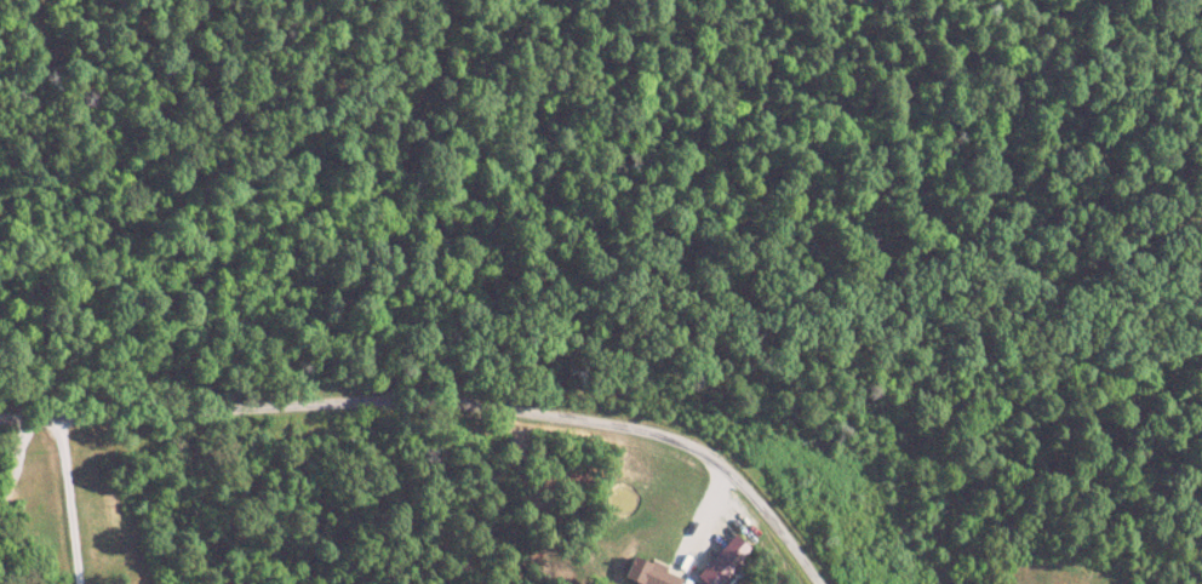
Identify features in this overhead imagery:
road: (505, 374)
building: (657, 574)

